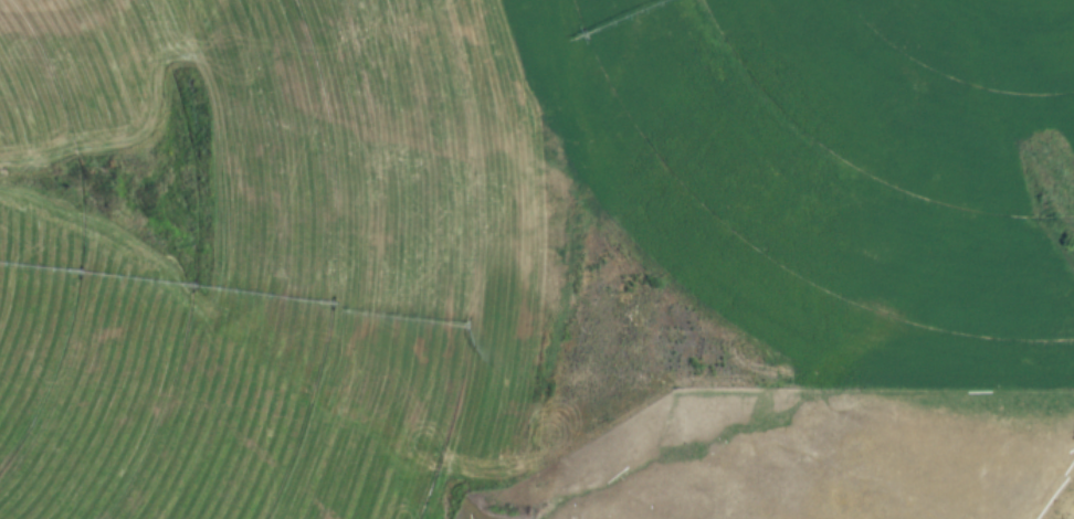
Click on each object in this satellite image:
road: (1017, 98)

